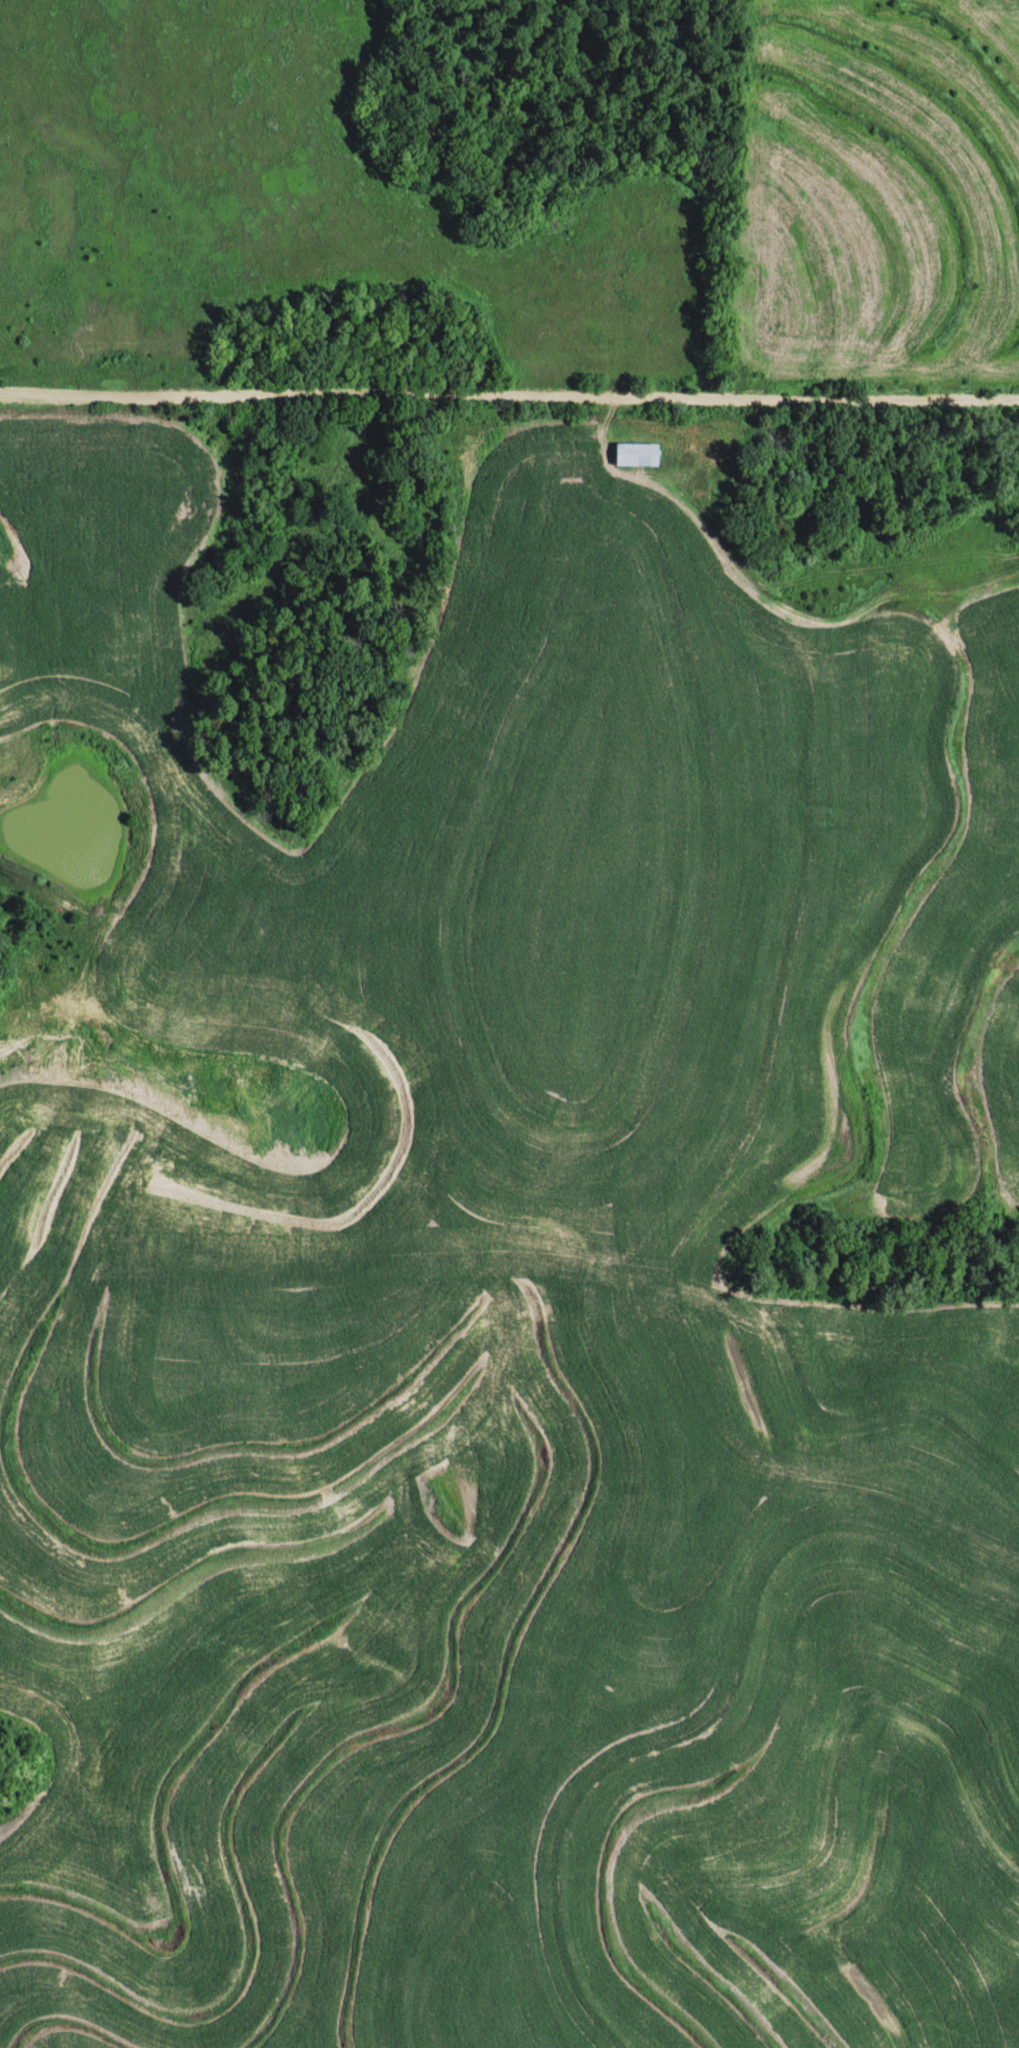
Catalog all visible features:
road: (509, 390)
building: (630, 451)

